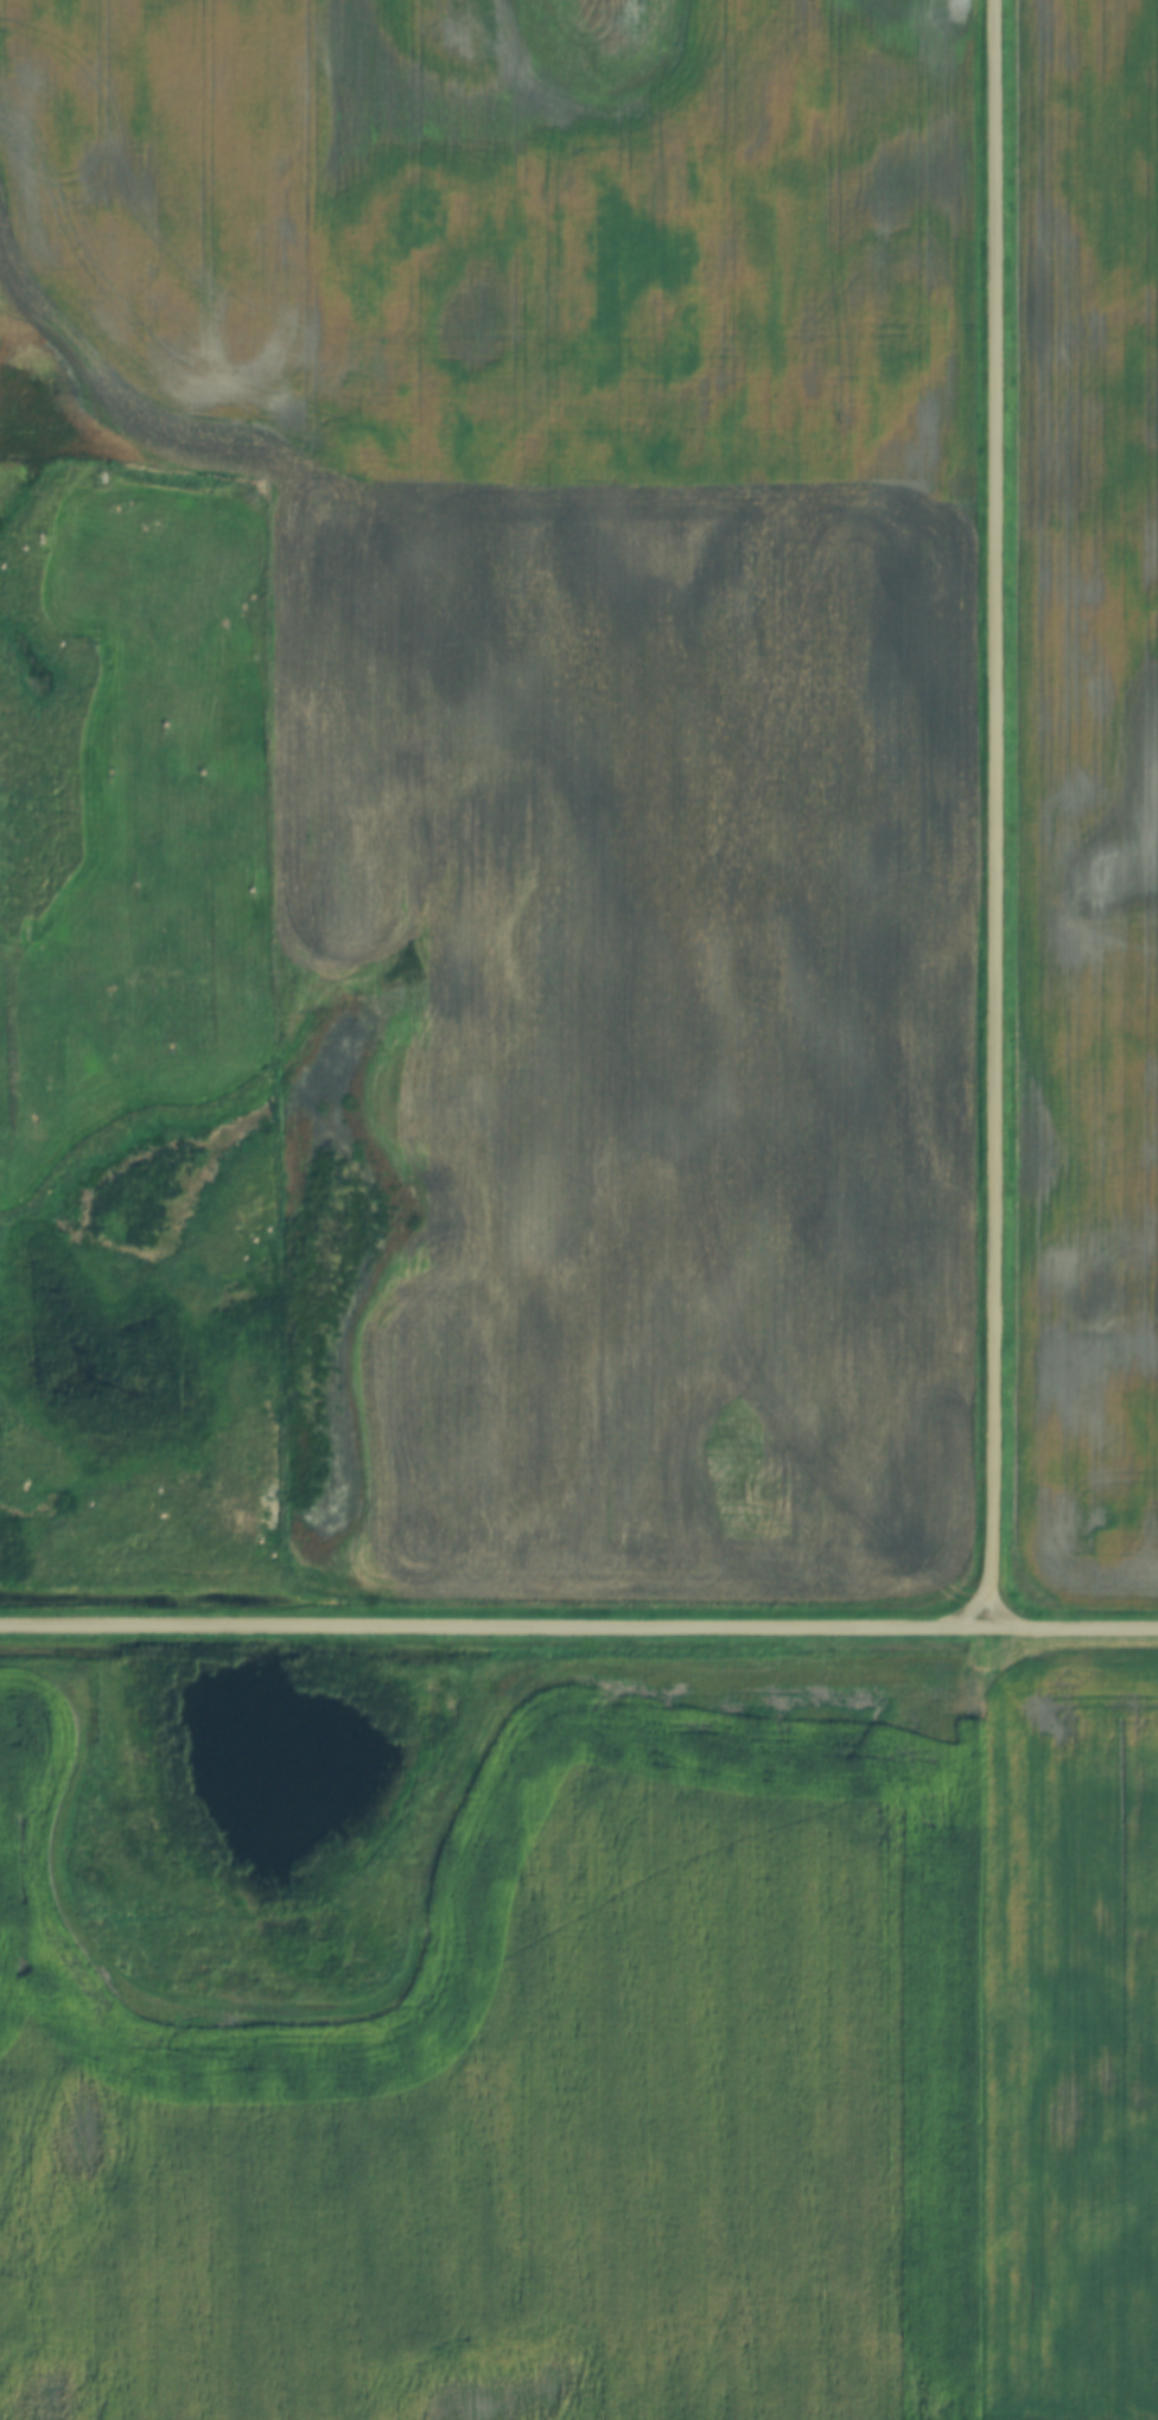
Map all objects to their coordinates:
road: (1004, 815)
road: (578, 1631)

